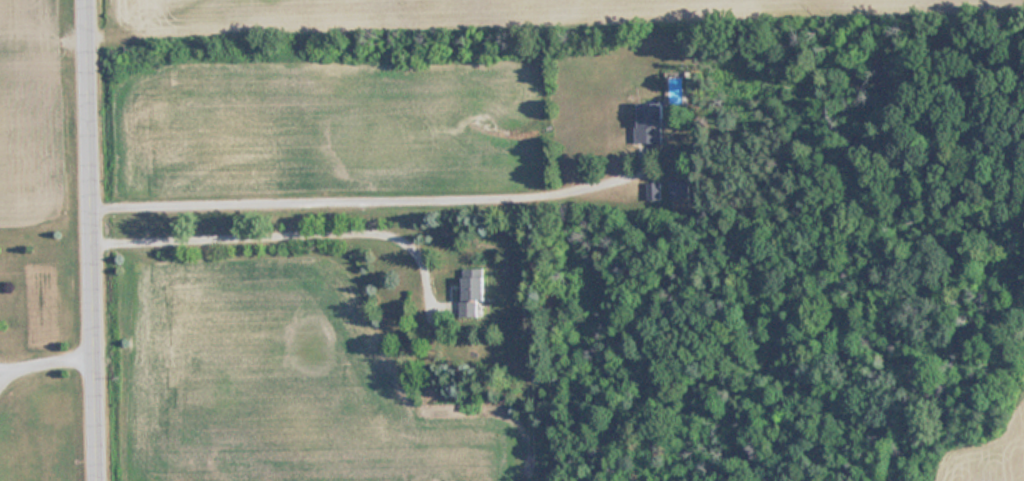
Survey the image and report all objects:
building: (677, 84)
building: (651, 123)
building: (680, 188)
building: (654, 190)
road: (360, 197)
road: (280, 230)
road: (97, 240)
building: (473, 293)
road: (49, 363)

